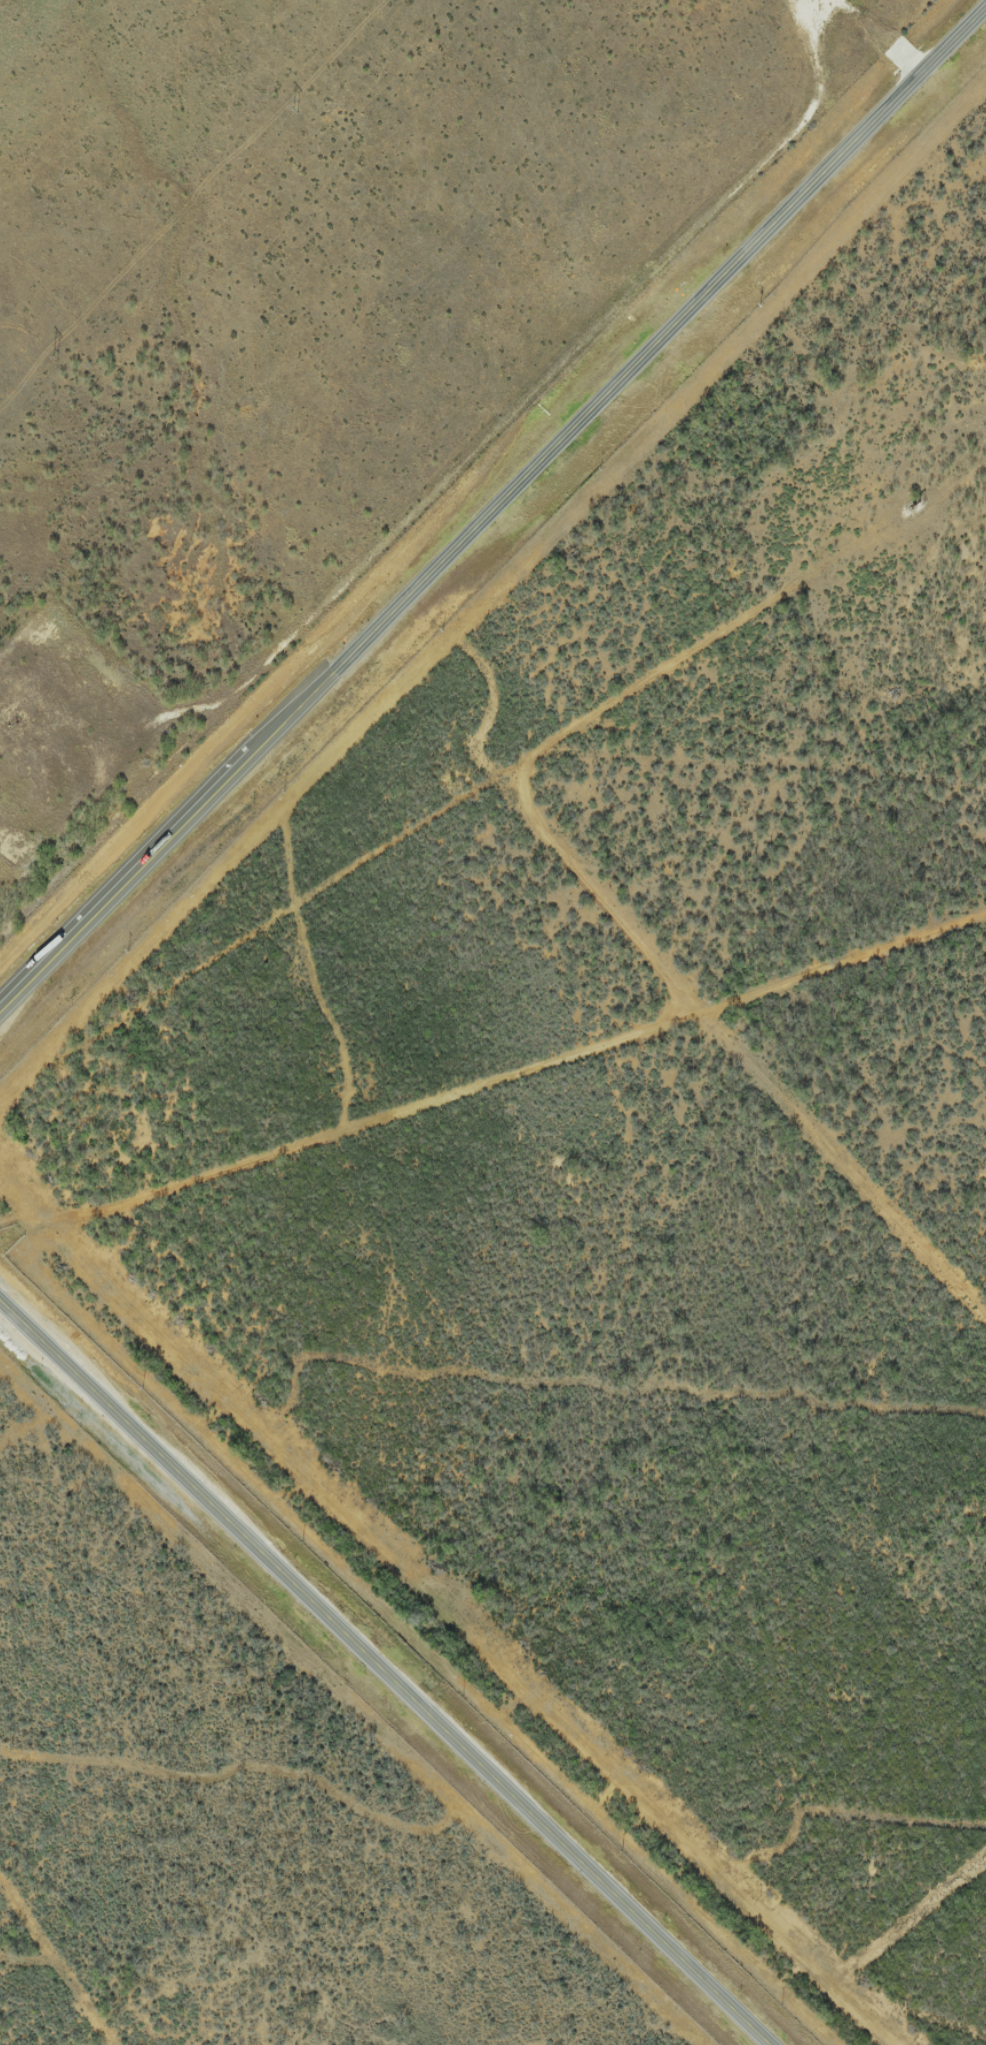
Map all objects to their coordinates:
power tower: (299, 109)
power tower: (55, 359)
road: (491, 510)
road: (492, 1109)
road: (376, 1677)

